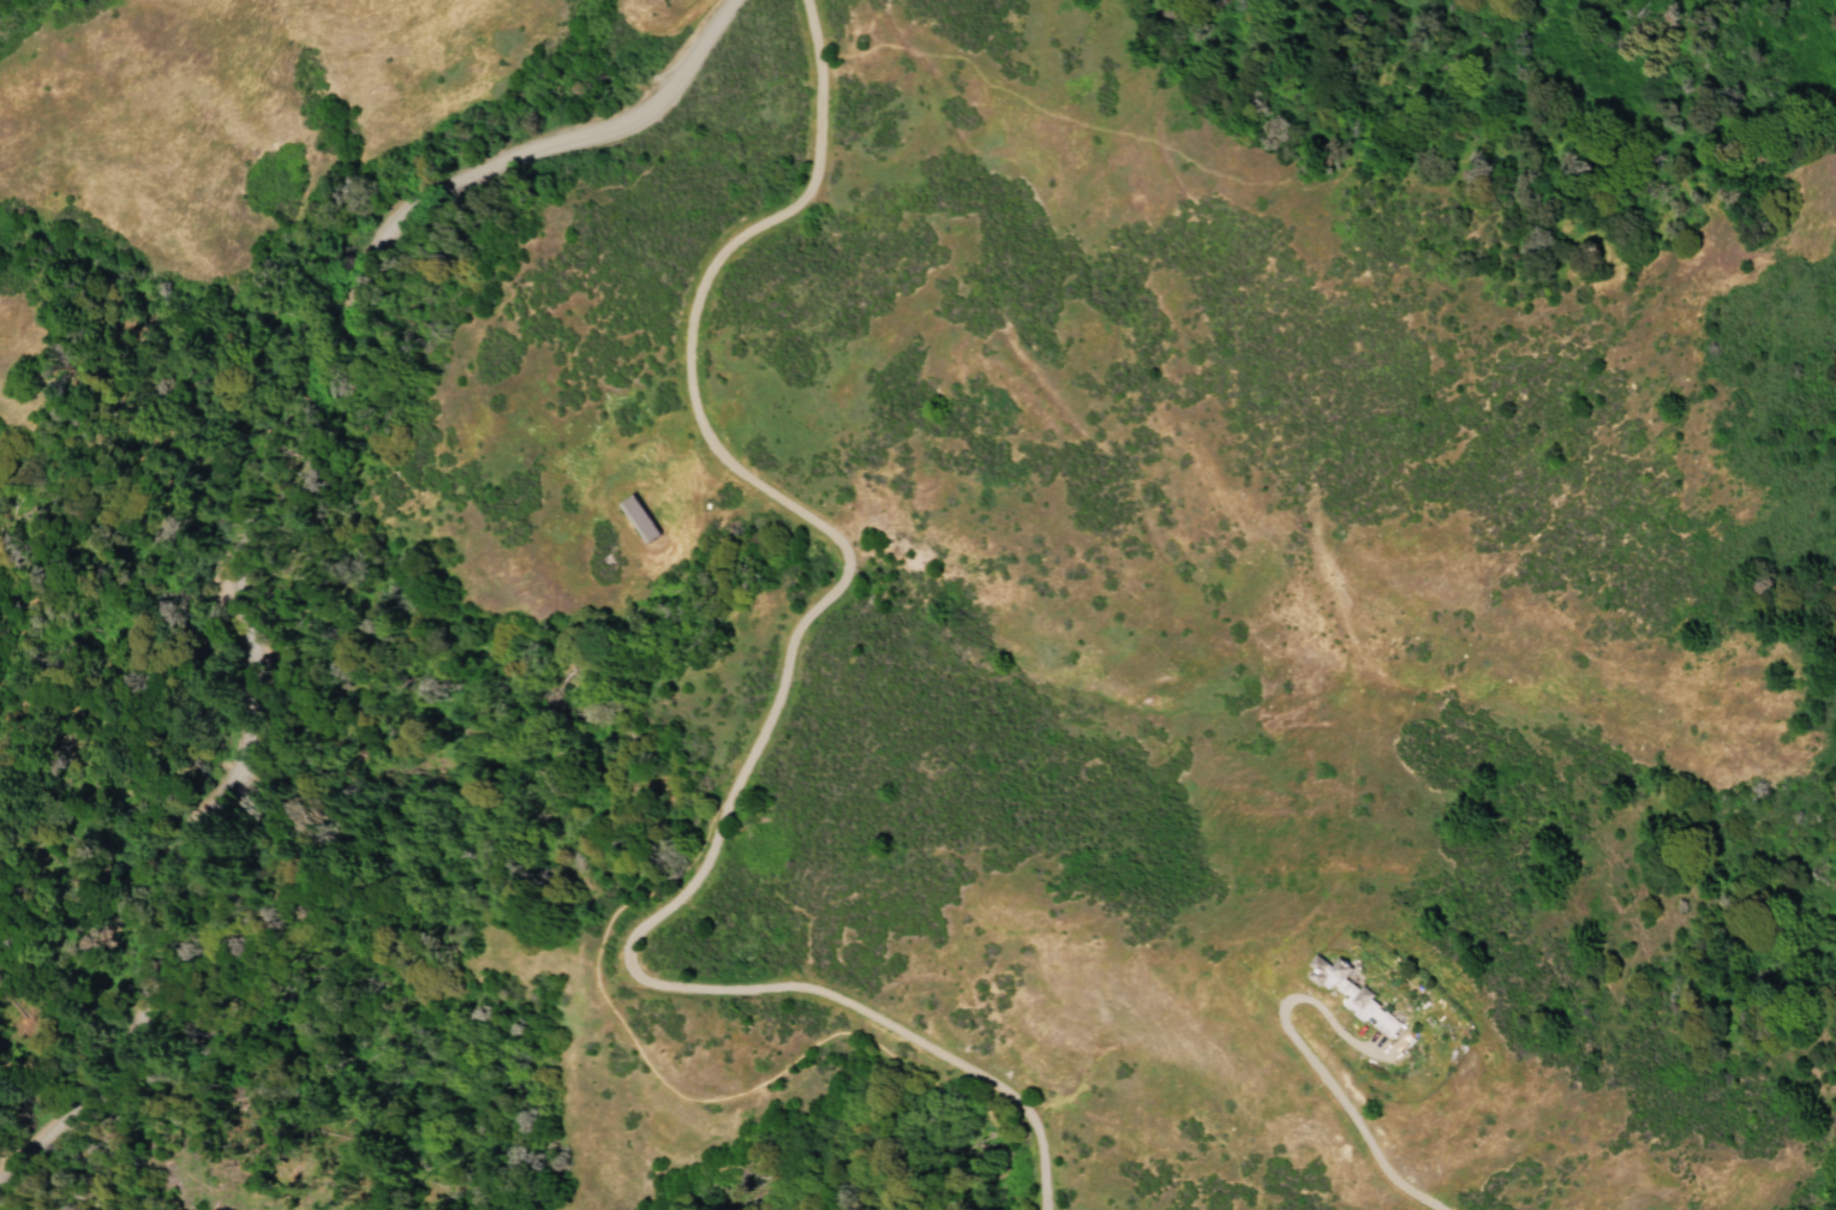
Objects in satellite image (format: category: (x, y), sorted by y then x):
road: (701, 425)
road: (250, 465)
building: (646, 520)
road: (788, 986)
building: (1352, 994)
building: (1339, 996)
road: (1311, 1062)
road: (737, 1091)
road: (24, 1138)

